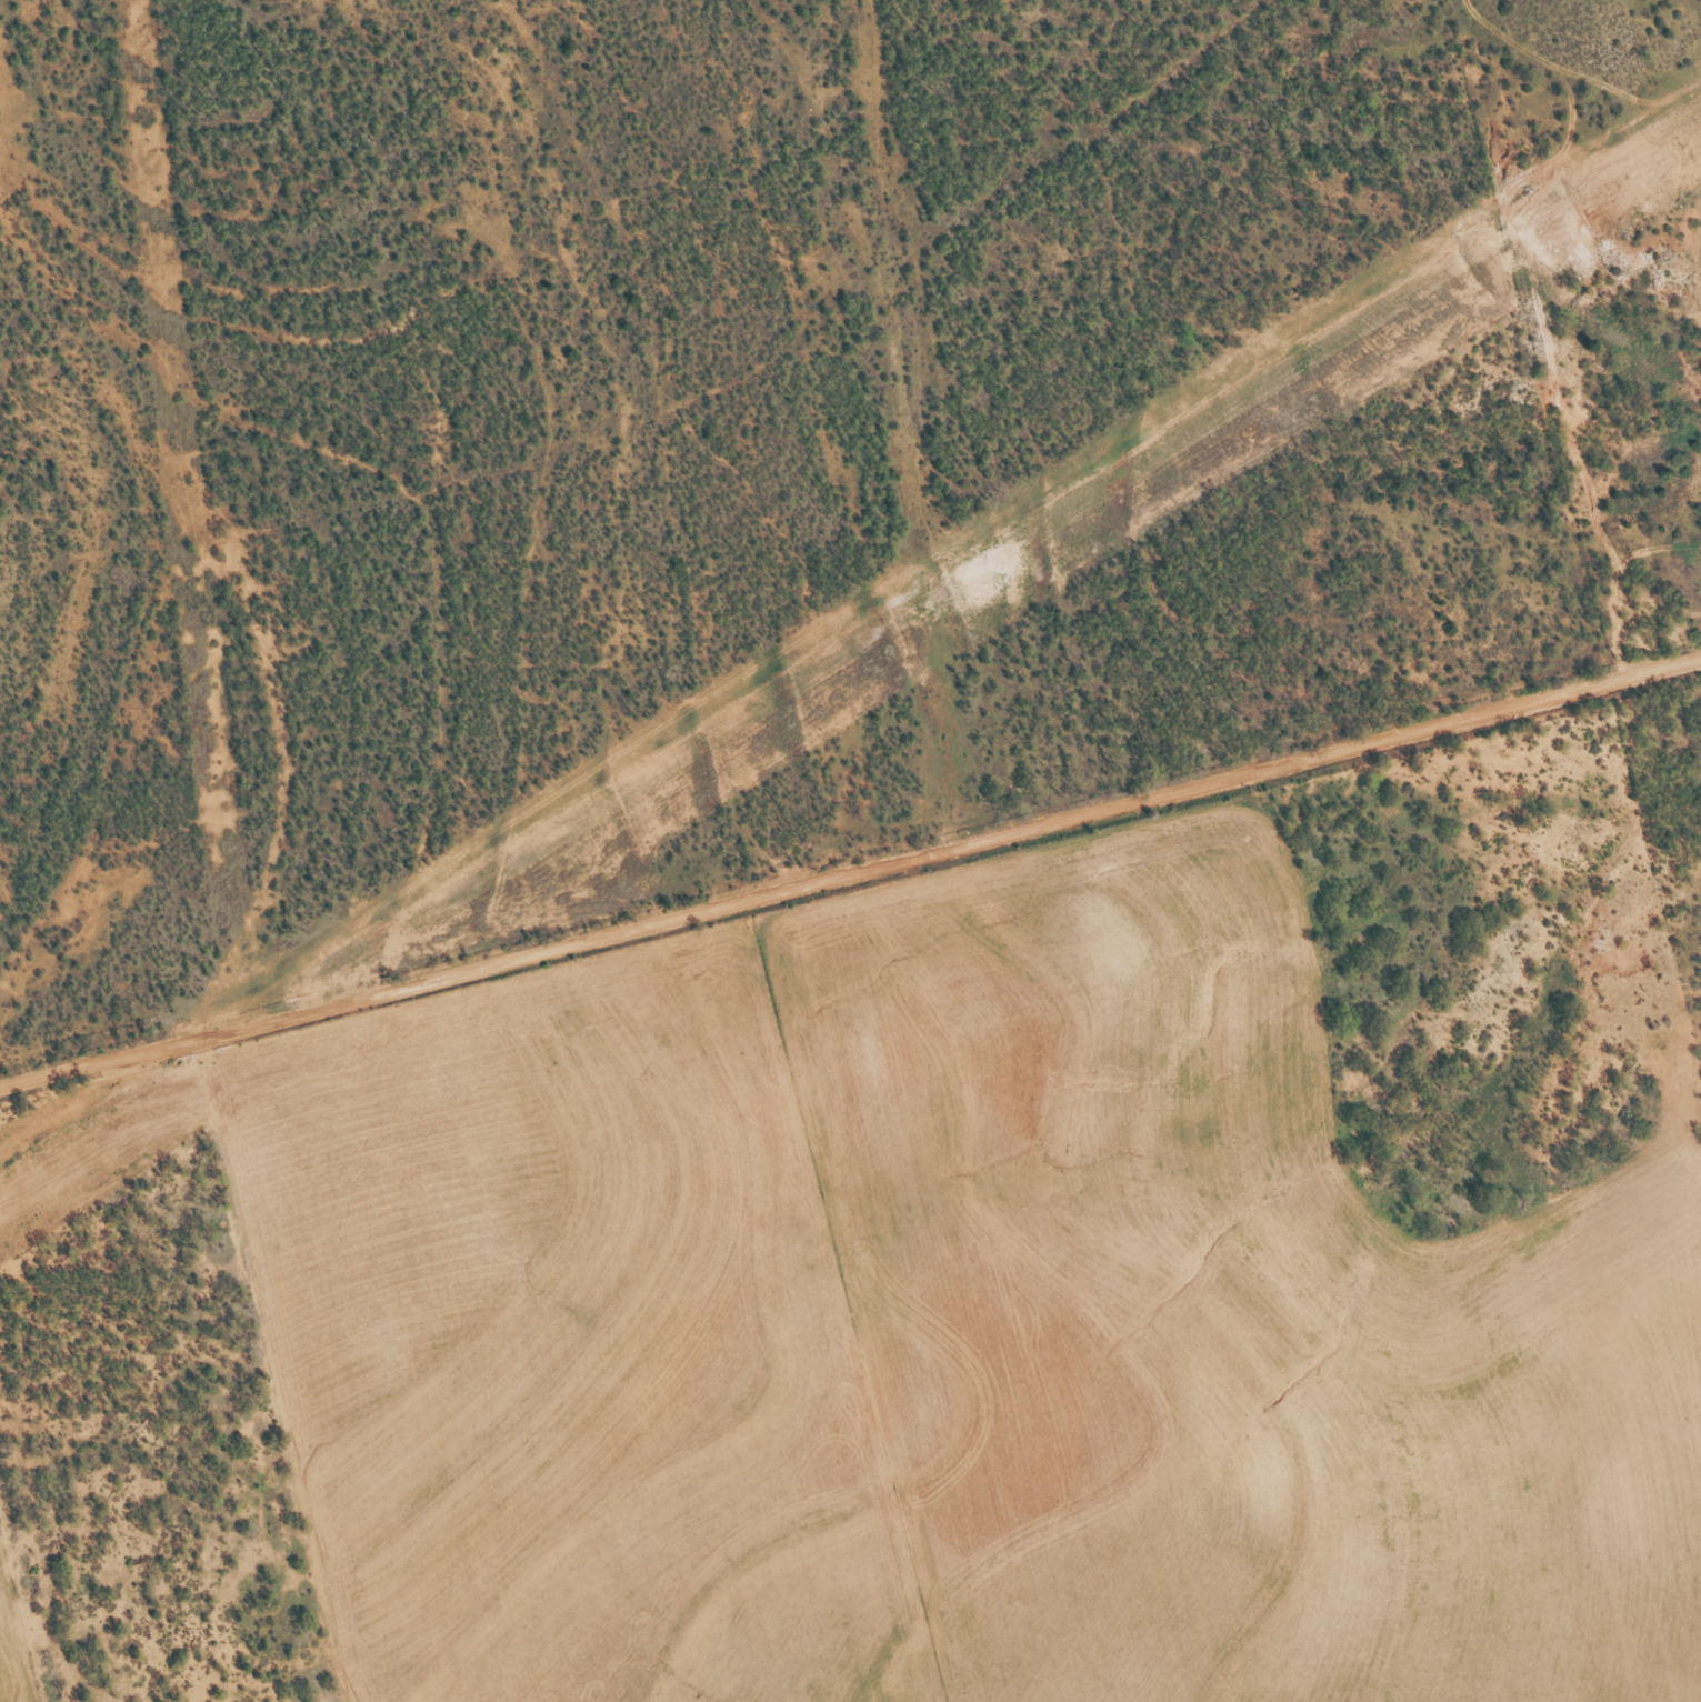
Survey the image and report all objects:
road: (851, 858)
road: (267, 1364)

